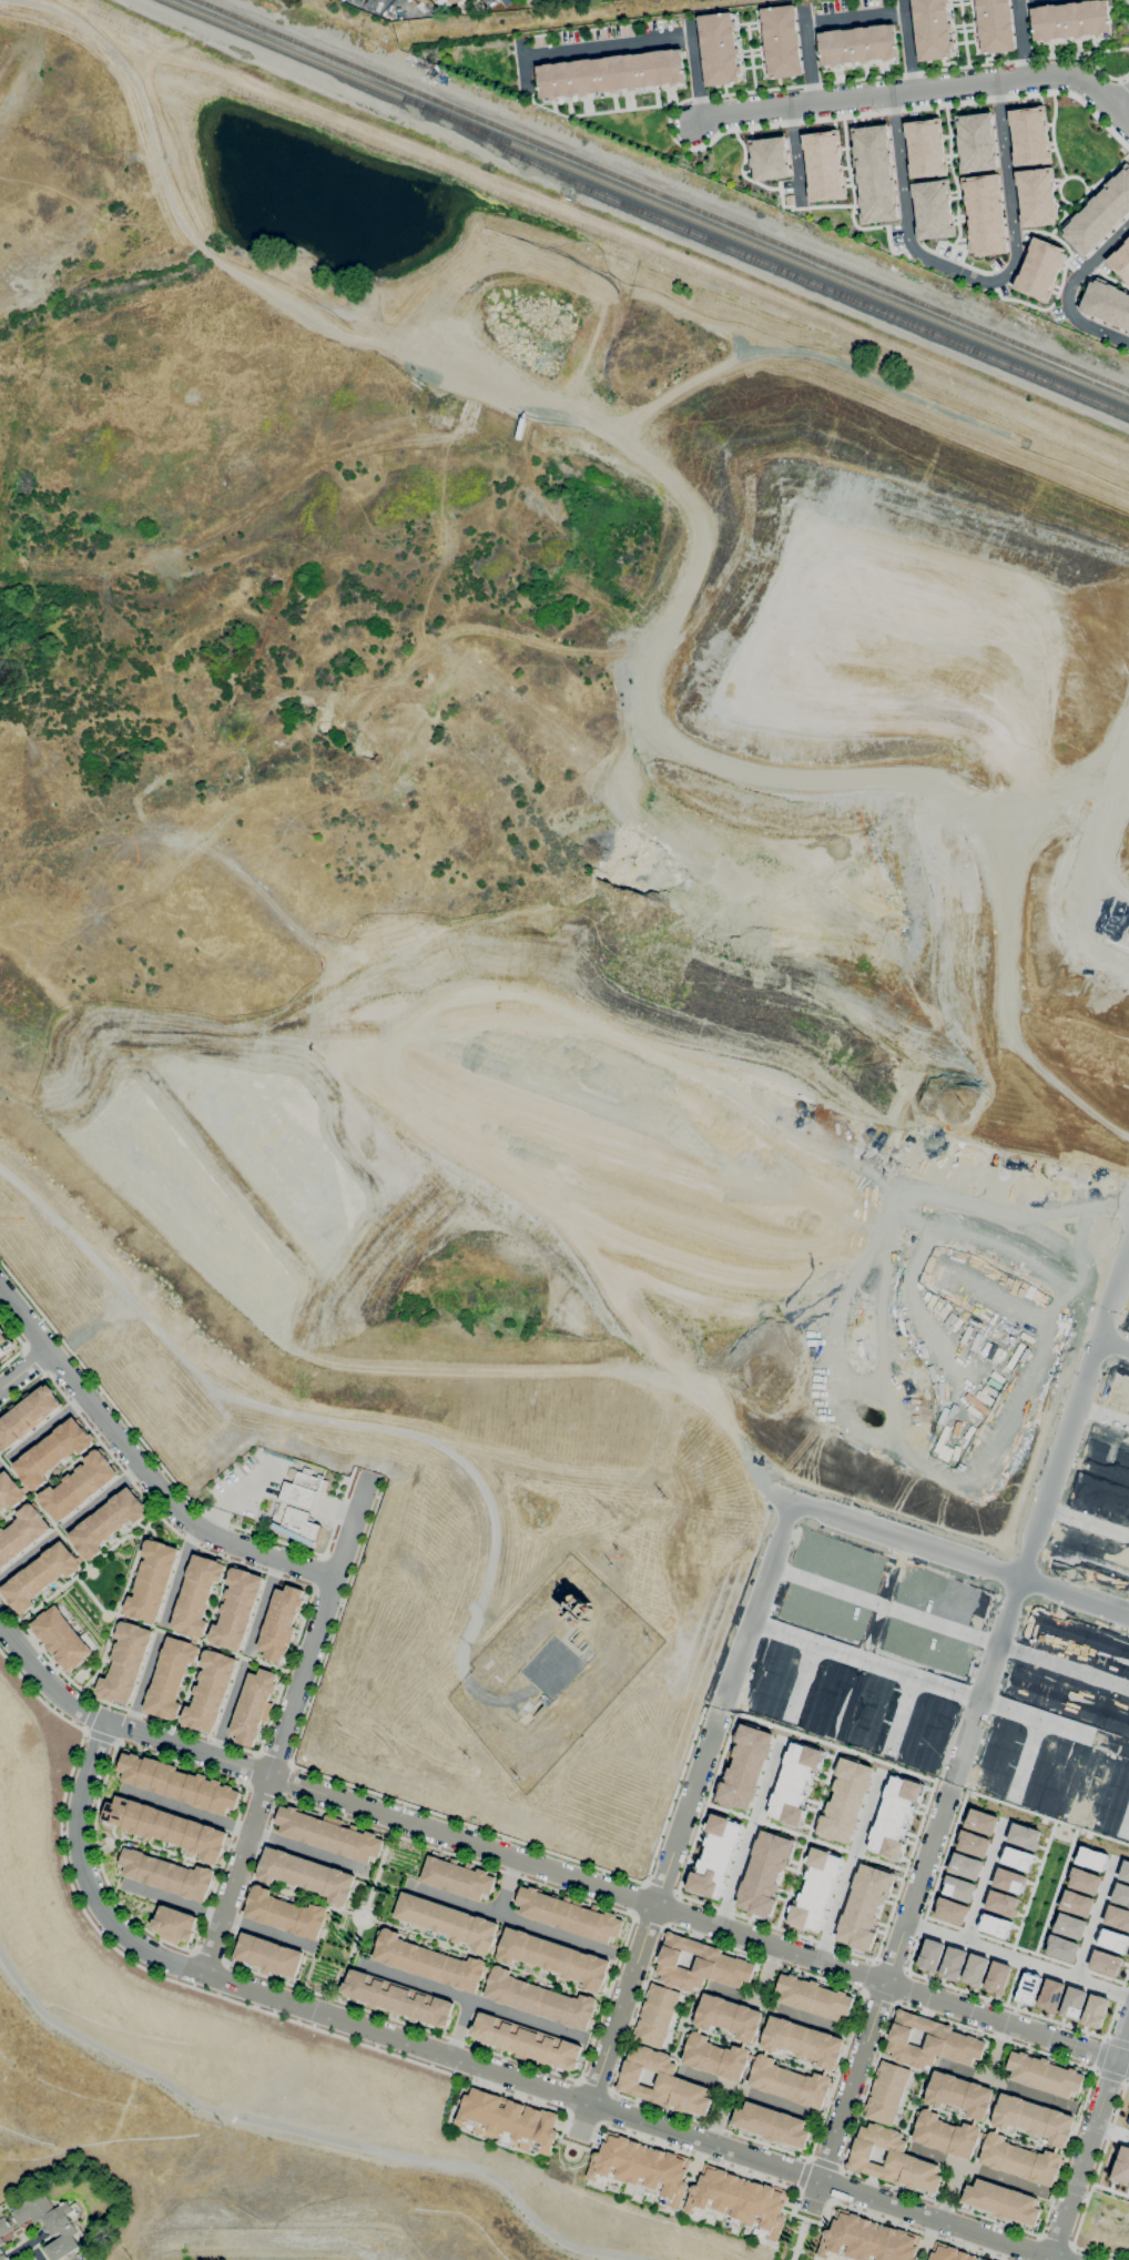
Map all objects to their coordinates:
road: (511, 0)
building: (579, 0)
building: (420, 2)
building: (450, 3)
road: (1126, 3)
road: (857, 18)
building: (1070, 21)
building: (994, 26)
building: (932, 29)
road: (963, 32)
road: (1024, 40)
building: (780, 41)
building: (857, 44)
road: (913, 45)
building: (719, 48)
road: (610, 49)
road: (750, 57)
road: (811, 58)
road: (526, 65)
road: (699, 73)
building: (610, 74)
road: (1121, 79)
road: (1126, 84)
road: (911, 93)
road: (1125, 108)
road: (597, 112)
road: (1125, 116)
road: (669, 132)
building: (1028, 135)
road: (1051, 135)
building: (976, 142)
building: (925, 148)
building: (769, 158)
road: (795, 158)
building: (823, 165)
road: (1108, 171)
building: (874, 173)
road: (953, 175)
road: (780, 190)
railway: (661, 194)
building: (1036, 196)
railway: (648, 200)
road: (1066, 202)
building: (932, 209)
building: (984, 214)
building: (1099, 214)
road: (1060, 220)
road: (1050, 235)
road: (930, 250)
building: (1120, 261)
building: (1039, 270)
road: (1094, 272)
road: (976, 278)
road: (1067, 290)
building: (1106, 304)
road: (1116, 952)
building: (824, 1192)
building: (927, 1225)
building: (1040, 1255)
road: (1123, 1313)
building: (975, 1329)
road: (1123, 1329)
road: (35, 1335)
building: (3, 1342)
road: (19, 1342)
road: (1110, 1342)
road: (1113, 1342)
road: (32, 1359)
road: (1119, 1362)
road: (60, 1366)
road: (24, 1367)
building: (862, 1381)
building: (1119, 1396)
road: (1091, 1409)
road: (1076, 1412)
road: (1103, 1415)
building: (28, 1416)
road: (48, 1425)
building: (937, 1427)
road: (138, 1436)
building: (1109, 1447)
building: (53, 1452)
road: (2, 1459)
road: (140, 1467)
road: (1102, 1467)
building: (289, 1472)
road: (50, 1482)
building: (79, 1486)
parking lot: (248, 1486)
building: (10, 1491)
road: (237, 1494)
road: (104, 1496)
road: (32, 1497)
building: (1101, 1500)
road: (334, 1508)
road: (763, 1508)
building: (296, 1509)
parking lot: (323, 1509)
road: (339, 1509)
road: (1058, 1511)
road: (781, 1518)
road: (1086, 1521)
building: (108, 1522)
building: (22, 1533)
road: (73, 1549)
road: (947, 1551)
road: (898, 1552)
building: (1092, 1552)
road: (24, 1559)
road: (336, 1560)
building: (843, 1560)
road: (89, 1563)
road: (489, 1565)
road: (318, 1569)
road: (177, 1574)
building: (41, 1577)
road: (1085, 1578)
building: (152, 1581)
road: (1034, 1582)
road: (818, 1583)
park: (101, 1588)
road: (89, 1593)
building: (939, 1593)
road: (328, 1594)
building: (196, 1595)
road: (1013, 1597)
road: (264, 1602)
road: (120, 1604)
road: (735, 1605)
building: (237, 1609)
building: (578, 1610)
building: (822, 1613)
road: (1078, 1613)
road: (109, 1614)
road: (765, 1618)
building: (281, 1623)
road: (303, 1623)
road: (944, 1626)
road: (160, 1630)
building: (61, 1639)
building: (1075, 1639)
road: (203, 1643)
building: (569, 1643)
building: (923, 1646)
road: (245, 1658)
building: (123, 1662)
road: (1062, 1665)
parking lot: (553, 1668)
building: (1127, 1668)
road: (801, 1676)
building: (170, 1678)
building: (772, 1680)
road: (142, 1681)
road: (966, 1685)
road: (937, 1686)
building: (210, 1691)
building: (1054, 1692)
road: (996, 1695)
building: (821, 1696)
building: (546, 1701)
road: (721, 1701)
road: (846, 1703)
building: (253, 1706)
road: (512, 1706)
road: (227, 1711)
road: (901, 1712)
building: (528, 1713)
building: (872, 1713)
road: (88, 1714)
building: (1118, 1715)
road: (286, 1722)
road: (121, 1725)
building: (921, 1730)
road: (99, 1735)
building: (1007, 1736)
road: (1059, 1737)
road: (116, 1742)
road: (834, 1746)
building: (1050, 1752)
road: (1026, 1757)
road: (273, 1759)
road: (720, 1759)
building: (999, 1759)
building: (131, 1767)
building: (743, 1767)
road: (252, 1770)
building: (148, 1773)
building: (1044, 1774)
building: (1115, 1774)
road: (324, 1775)
building: (163, 1778)
road: (284, 1780)
road: (952, 1780)
building: (991, 1782)
road: (1067, 1782)
building: (794, 1783)
building: (176, 1785)
building: (193, 1788)
road: (262, 1790)
road: (1089, 1790)
road: (674, 1793)
building: (207, 1794)
building: (1036, 1797)
building: (1110, 1797)
building: (225, 1800)
road: (963, 1800)
building: (844, 1801)
road: (185, 1810)
building: (118, 1812)
building: (133, 1817)
building: (894, 1817)
building: (1103, 1818)
building: (979, 1822)
building: (149, 1823)
road: (1128, 1823)
building: (164, 1825)
building: (179, 1831)
park: (1062, 1831)
building: (329, 1834)
road: (749, 1835)
building: (193, 1836)
road: (805, 1836)
building: (1023, 1836)
road: (804, 1837)
building: (973, 1844)
building: (212, 1845)
road: (157, 1847)
road: (690, 1848)
road: (306, 1851)
building: (714, 1856)
building: (1016, 1858)
building: (1090, 1858)
building: (132, 1862)
road: (541, 1864)
building: (964, 1866)
road: (848, 1868)
building: (148, 1869)
road: (376, 1869)
road: (902, 1871)
building: (1123, 1871)
building: (763, 1873)
building: (164, 1875)
building: (307, 1875)
building: (458, 1878)
building: (179, 1879)
road: (984, 1881)
building: (1008, 1881)
building: (1084, 1881)
building: (200, 1884)
road: (508, 1885)
road: (660, 1887)
road: (1031, 1887)
building: (814, 1889)
building: (958, 1889)
road: (286, 1892)
road: (1054, 1894)
building: (1120, 1895)
road: (638, 1898)
building: (1000, 1904)
building: (1076, 1904)
building: (863, 1906)
road: (668, 1908)
building: (950, 1911)
road: (369, 1913)
road: (632, 1913)
building: (286, 1914)
road: (218, 1915)
building: (569, 1915)
fountain: (362, 1917)
road: (512, 1917)
building: (1117, 1917)
road: (1095, 1918)
road: (648, 1919)
road: (202, 1922)
building: (449, 1922)
building: (175, 1925)
building: (994, 1926)
building: (1068, 1926)
road: (773, 1927)
road: (499, 1938)
building: (1112, 1940)
building: (1061, 1948)
road: (1023, 1949)
road: (208, 1955)
building: (269, 1955)
building: (929, 1955)
road: (1018, 1957)
road: (487, 1958)
building: (556, 1958)
road: (346, 1962)
building: (429, 1963)
building: (1105, 1963)
building: (952, 1964)
building: (700, 1965)
road: (189, 1967)
road: (892, 1967)
building: (974, 1970)
road: (766, 1974)
road: (220, 1977)
road: (866, 1977)
building: (996, 1978)
road: (170, 1980)
road: (485, 1982)
road: (1013, 1982)
building: (1027, 1988)
road: (907, 1989)
road: (703, 1990)
road: (863, 1994)
building: (1050, 1995)
building: (814, 1997)
building: (398, 1998)
road: (879, 1998)
road: (474, 2000)
building: (541, 2000)
road: (1116, 2001)
building: (1071, 2004)
road: (1008, 2006)
road: (693, 2007)
road: (776, 2008)
building: (1094, 2011)
building: (657, 2015)
road: (616, 2016)
road: (460, 2027)
road: (691, 2027)
road: (700, 2030)
road: (722, 2037)
building: (746, 2037)
road: (1120, 2037)
building: (527, 2041)
building: (930, 2043)
road: (744, 2045)
road: (754, 2047)
road: (755, 2048)
road: (995, 2050)
road: (766, 2051)
road: (796, 2063)
building: (828, 2063)
road: (1121, 2063)
road: (899, 2064)
road: (1096, 2064)
road: (479, 2065)
road: (1094, 2070)
road: (826, 2072)
road: (832, 2074)
building: (1045, 2075)
road: (1127, 2081)
building: (662, 2082)
road: (918, 2085)
road: (1007, 2085)
road: (592, 2086)
road: (747, 2092)
building: (887, 2092)
road: (847, 2095)
road: (571, 2096)
road: (602, 2107)
road: (930, 2108)
road: (718, 2114)
building: (977, 2115)
road: (953, 2116)
road: (582, 2117)
building: (507, 2119)
road: (975, 2122)
building: (772, 2125)
road: (985, 2125)
road: (986, 2126)
building: (1128, 2126)
road: (906, 2127)
road: (461, 2129)
road: (997, 2130)
road: (1111, 2130)
road: (306, 2131)
road: (1027, 2139)
building: (1058, 2140)
road: (573, 2145)
road: (1057, 2149)
road: (1062, 2151)
park: (569, 2158)
building: (893, 2159)
road: (1082, 2160)
road: (824, 2163)
building: (1121, 2166)
building: (642, 2167)
road: (979, 2170)
road: (802, 2173)
road: (834, 2183)
road: (1110, 2189)
road: (948, 2191)
road: (1088, 2191)
road: (813, 2193)
building: (740, 2199)
building: (1001, 2201)
road: (795, 2216)
building: (50, 2222)
building: (3, 2227)
park: (799, 2236)
building: (867, 2240)
road: (1055, 2240)
road: (1035, 2247)
building: (948, 2253)
road: (1068, 2253)
building: (2, 2254)
building: (979, 2259)

